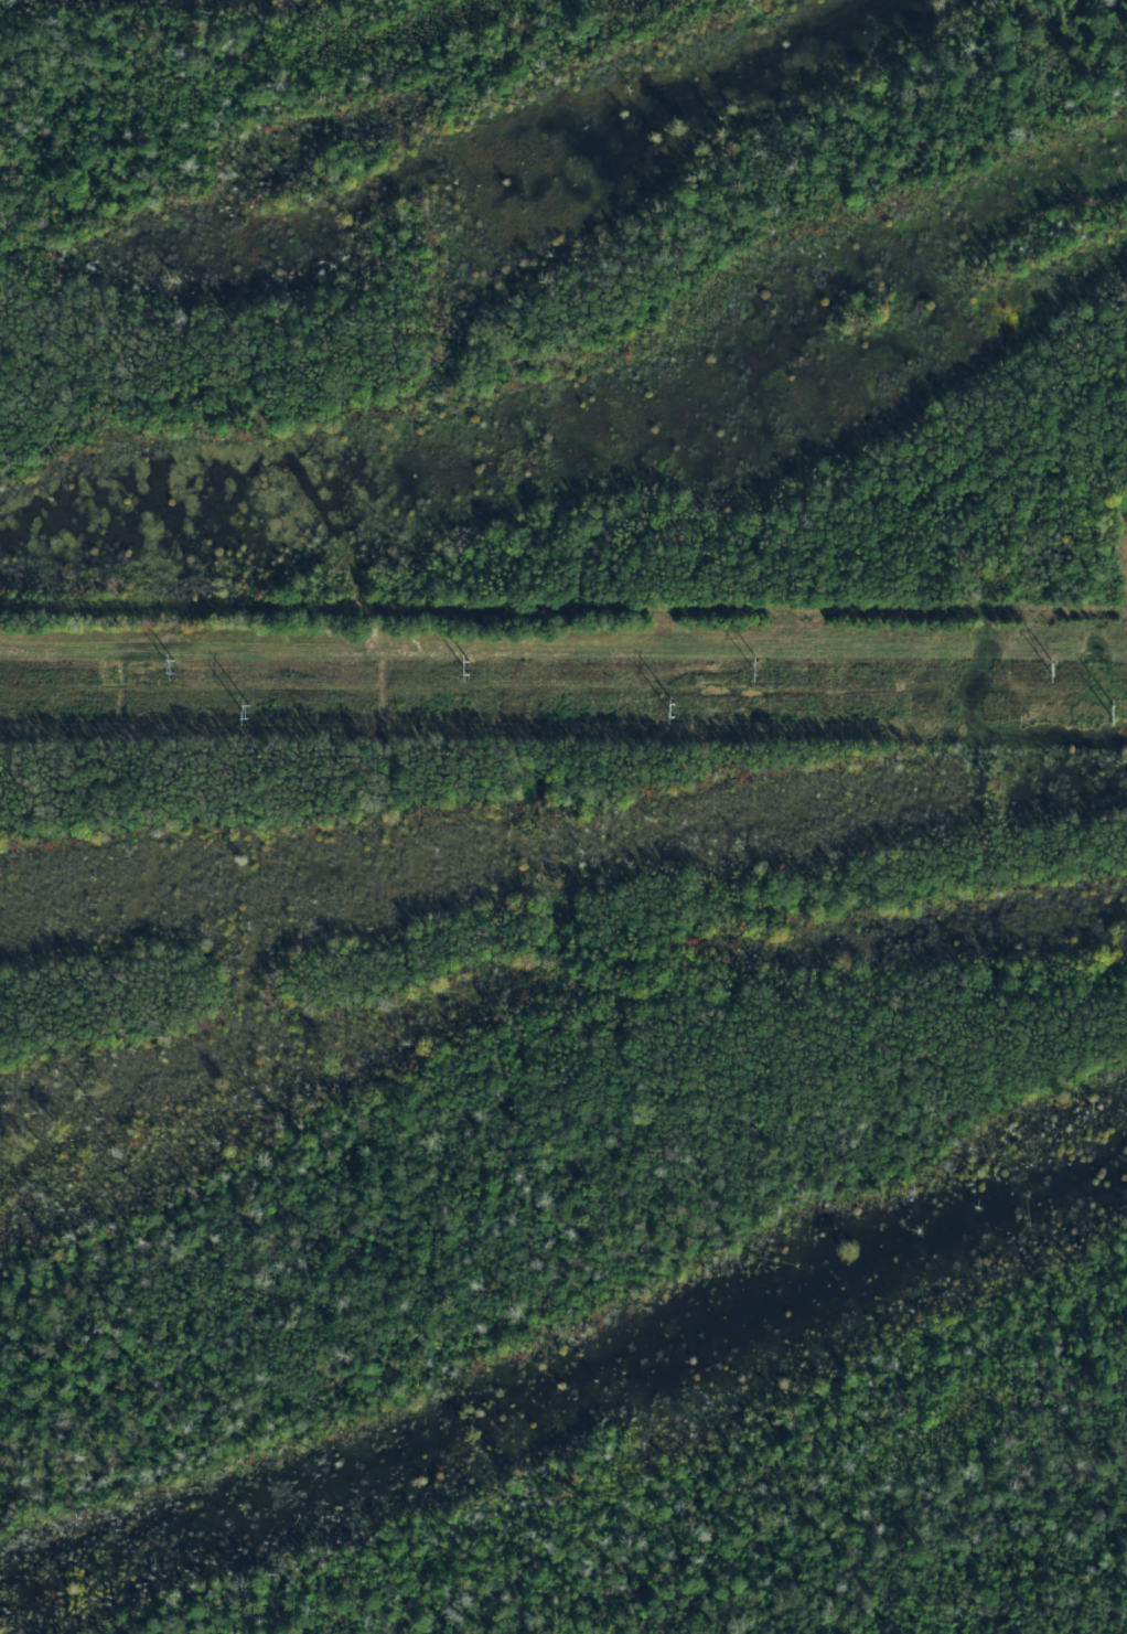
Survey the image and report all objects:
power tower: (257, 714)
power tower: (1113, 715)

